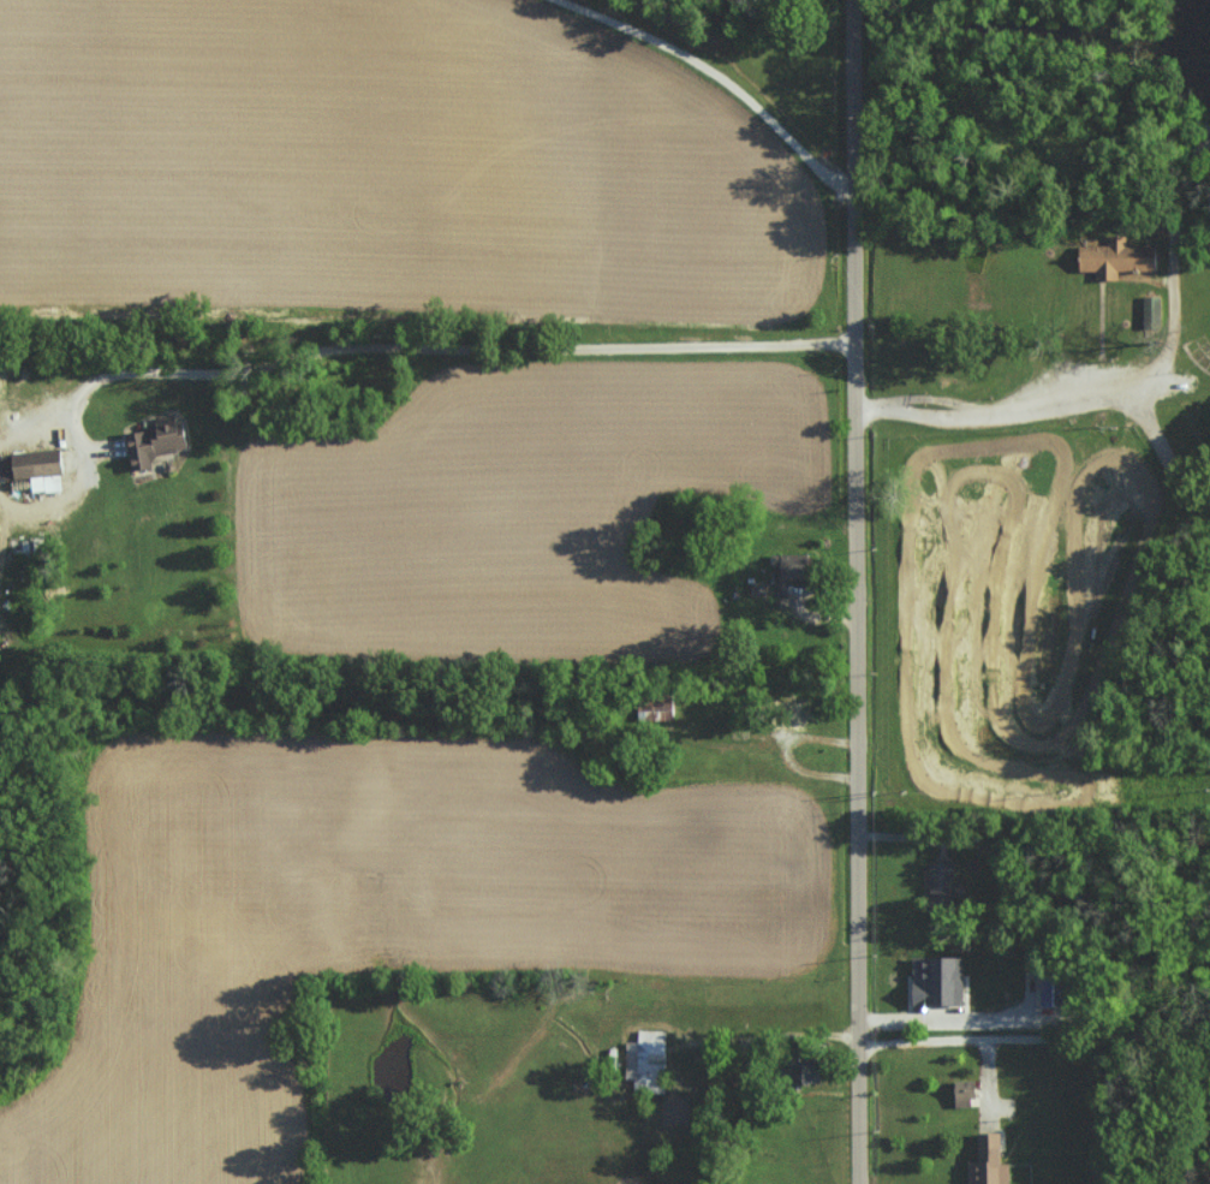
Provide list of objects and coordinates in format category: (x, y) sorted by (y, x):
road: (709, 78)
building: (1114, 260)
building: (1150, 313)
road: (1178, 329)
road: (431, 347)
road: (1193, 362)
road: (1002, 407)
building: (156, 441)
building: (38, 468)
building: (788, 565)
road: (862, 591)
track: (1006, 620)
building: (658, 709)
road: (788, 756)
building: (942, 881)
building: (940, 980)
road: (1035, 1036)
road: (769, 1039)
building: (648, 1061)
building: (965, 1093)
building: (990, 1161)

